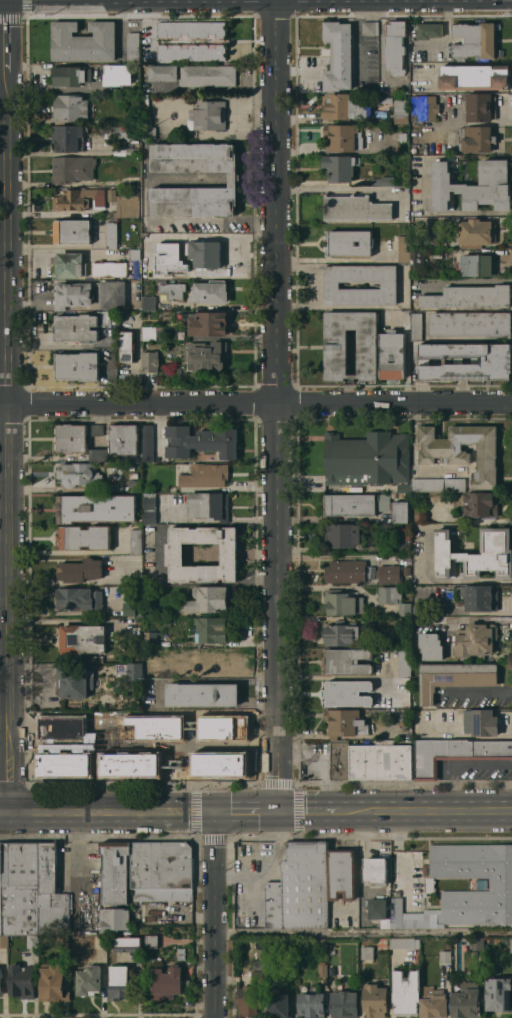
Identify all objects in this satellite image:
building: (146, 28)
building: (369, 28)
building: (191, 29)
building: (430, 30)
building: (475, 40)
building: (83, 41)
building: (395, 45)
building: (133, 47)
building: (192, 52)
building: (339, 55)
building: (164, 73)
building: (118, 74)
building: (70, 75)
building: (209, 75)
building: (475, 77)
building: (384, 99)
building: (70, 107)
building: (345, 107)
building: (480, 107)
building: (424, 108)
building: (402, 111)
road: (237, 113)
building: (208, 115)
building: (133, 119)
building: (148, 121)
building: (125, 132)
building: (343, 137)
building: (68, 138)
building: (475, 138)
building: (134, 151)
road: (145, 162)
building: (340, 167)
building: (73, 168)
road: (233, 177)
road: (255, 177)
building: (383, 180)
building: (233, 182)
building: (473, 186)
road: (341, 187)
building: (111, 195)
building: (79, 199)
building: (127, 206)
building: (355, 208)
road: (145, 211)
building: (73, 231)
building: (476, 232)
building: (111, 234)
building: (350, 242)
building: (149, 244)
building: (404, 248)
road: (65, 250)
building: (205, 253)
building: (135, 254)
building: (169, 257)
building: (418, 257)
building: (70, 264)
building: (478, 265)
building: (110, 268)
road: (467, 282)
building: (389, 285)
building: (173, 290)
building: (211, 292)
building: (73, 293)
building: (113, 294)
building: (470, 297)
building: (149, 302)
building: (404, 315)
building: (109, 316)
building: (207, 322)
building: (471, 323)
building: (416, 326)
building: (76, 327)
building: (153, 333)
building: (127, 346)
building: (336, 346)
building: (207, 355)
building: (392, 355)
building: (150, 360)
building: (496, 360)
building: (77, 366)
road: (255, 403)
road: (7, 406)
road: (275, 406)
road: (157, 428)
building: (97, 429)
building: (72, 438)
building: (124, 439)
building: (202, 441)
building: (148, 442)
building: (463, 450)
building: (95, 455)
building: (366, 460)
building: (132, 467)
building: (78, 474)
building: (133, 475)
building: (206, 475)
building: (439, 484)
building: (135, 485)
building: (404, 488)
building: (172, 489)
building: (401, 494)
building: (356, 503)
building: (480, 504)
building: (209, 506)
building: (96, 508)
building: (150, 509)
building: (400, 512)
building: (420, 514)
building: (341, 536)
building: (84, 537)
building: (136, 541)
building: (404, 546)
road: (65, 551)
building: (175, 554)
building: (476, 554)
building: (80, 570)
building: (407, 570)
building: (346, 571)
building: (388, 573)
road: (471, 580)
building: (481, 597)
building: (79, 598)
building: (208, 599)
building: (394, 599)
building: (343, 602)
building: (129, 608)
building: (212, 629)
building: (342, 633)
building: (82, 638)
building: (150, 639)
building: (476, 639)
building: (404, 641)
building: (431, 646)
building: (211, 660)
building: (346, 661)
building: (404, 662)
building: (154, 668)
building: (130, 671)
building: (454, 677)
road: (214, 679)
building: (73, 682)
road: (480, 691)
building: (404, 692)
building: (347, 693)
building: (202, 694)
building: (418, 721)
building: (345, 722)
building: (481, 722)
building: (403, 724)
building: (455, 753)
building: (340, 760)
building: (381, 762)
road: (458, 762)
road: (107, 812)
traffic signals: (216, 812)
road: (246, 812)
traffic signals: (277, 812)
road: (313, 812)
road: (431, 812)
building: (116, 871)
building: (162, 871)
building: (375, 871)
building: (342, 874)
building: (481, 884)
building: (501, 884)
building: (305, 885)
building: (20, 888)
building: (1, 891)
building: (51, 894)
building: (274, 904)
building: (379, 911)
building: (397, 912)
road: (217, 914)
building: (114, 919)
road: (364, 932)
building: (151, 938)
building: (4, 941)
building: (33, 941)
building: (62, 942)
building: (402, 942)
building: (478, 943)
building: (127, 944)
building: (511, 944)
building: (367, 952)
building: (445, 956)
building: (323, 969)
building: (258, 976)
building: (89, 980)
building: (22, 981)
building: (1, 982)
building: (119, 982)
building: (166, 982)
building: (53, 983)
building: (406, 992)
building: (498, 993)
building: (249, 1000)
building: (375, 1000)
building: (466, 1001)
building: (434, 1002)
building: (279, 1003)
building: (345, 1003)
building: (311, 1004)

